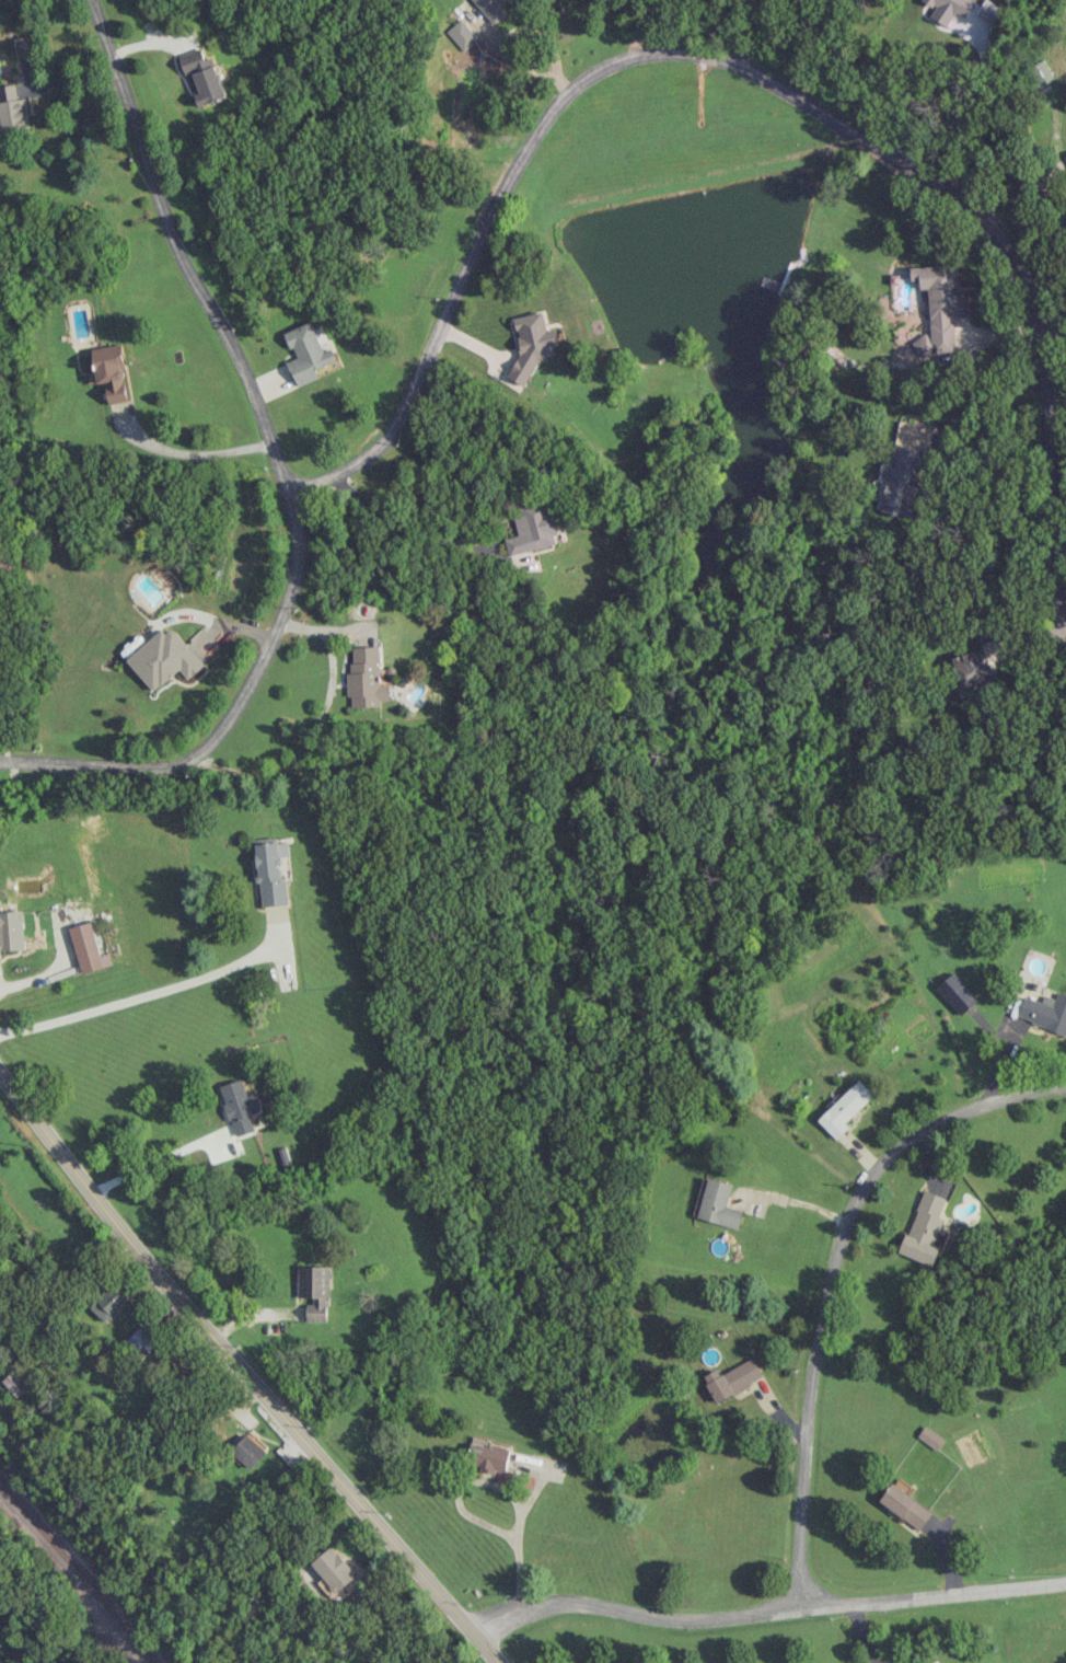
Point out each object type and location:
building: (491, 9)
building: (963, 10)
road: (754, 34)
building: (461, 35)
building: (22, 46)
road: (518, 59)
road: (744, 69)
building: (1040, 73)
building: (202, 77)
road: (966, 101)
building: (1064, 159)
road: (1040, 189)
building: (942, 303)
building: (531, 345)
building: (306, 354)
road: (936, 450)
road: (193, 453)
road: (279, 472)
building: (901, 481)
road: (409, 528)
building: (532, 529)
road: (208, 617)
road: (1063, 621)
building: (164, 658)
building: (975, 665)
building: (366, 679)
road: (311, 735)
building: (271, 870)
building: (11, 931)
building: (85, 946)
road: (32, 980)
road: (154, 992)
building: (955, 993)
building: (1044, 1012)
building: (240, 1107)
building: (845, 1108)
road: (154, 1162)
road: (795, 1201)
building: (717, 1203)
building: (925, 1229)
road: (833, 1279)
building: (314, 1291)
building: (108, 1305)
building: (140, 1341)
road: (243, 1373)
building: (732, 1379)
building: (930, 1437)
building: (247, 1452)
building: (489, 1456)
building: (905, 1506)
road: (461, 1509)
railway: (76, 1572)
building: (334, 1573)
road: (766, 1610)
road: (867, 1632)
building: (966, 1662)

